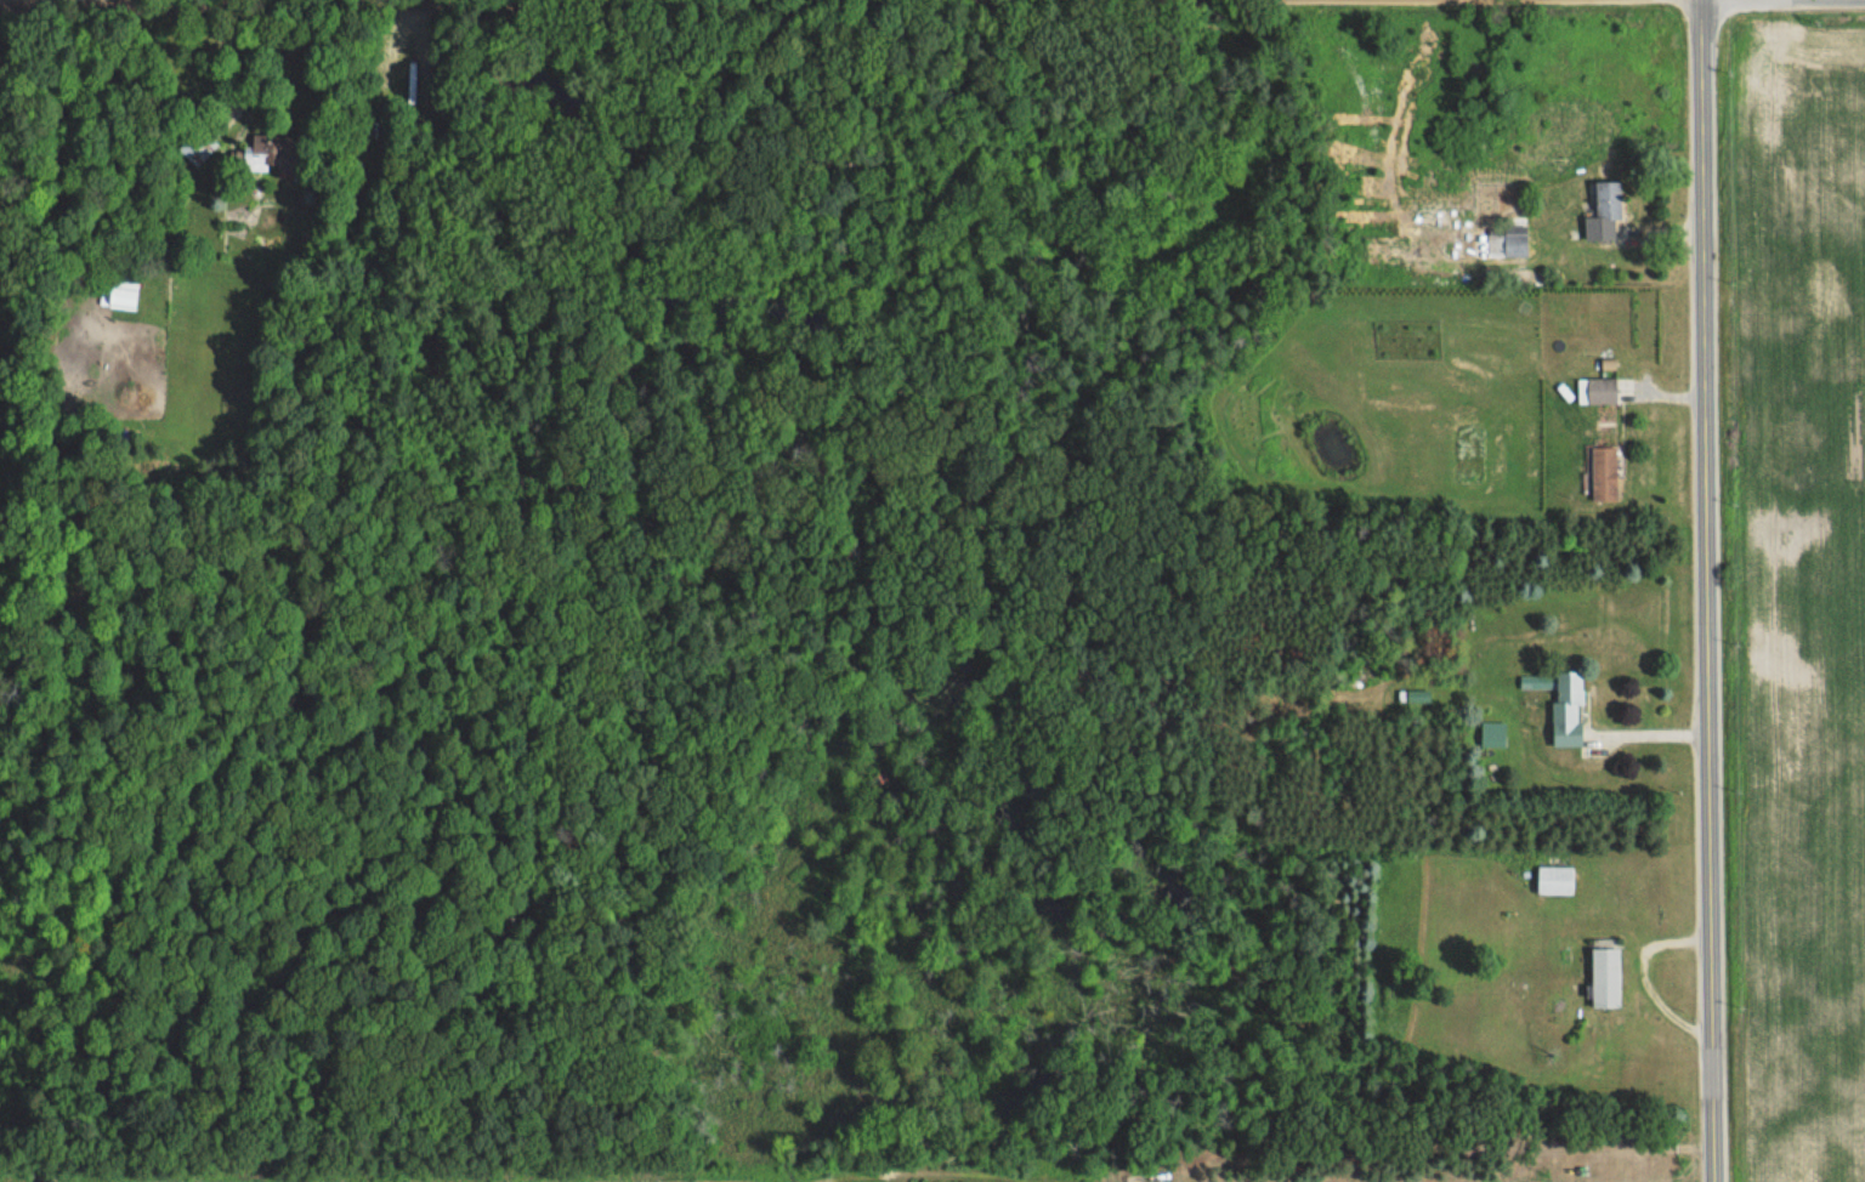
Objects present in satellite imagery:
road: (280, 4)
road: (379, 73)
building: (195, 146)
building: (257, 152)
building: (1604, 211)
building: (1506, 245)
building: (123, 292)
building: (1600, 390)
building: (1603, 473)
road: (1705, 591)
building: (1566, 709)
building: (1491, 734)
building: (1604, 977)

